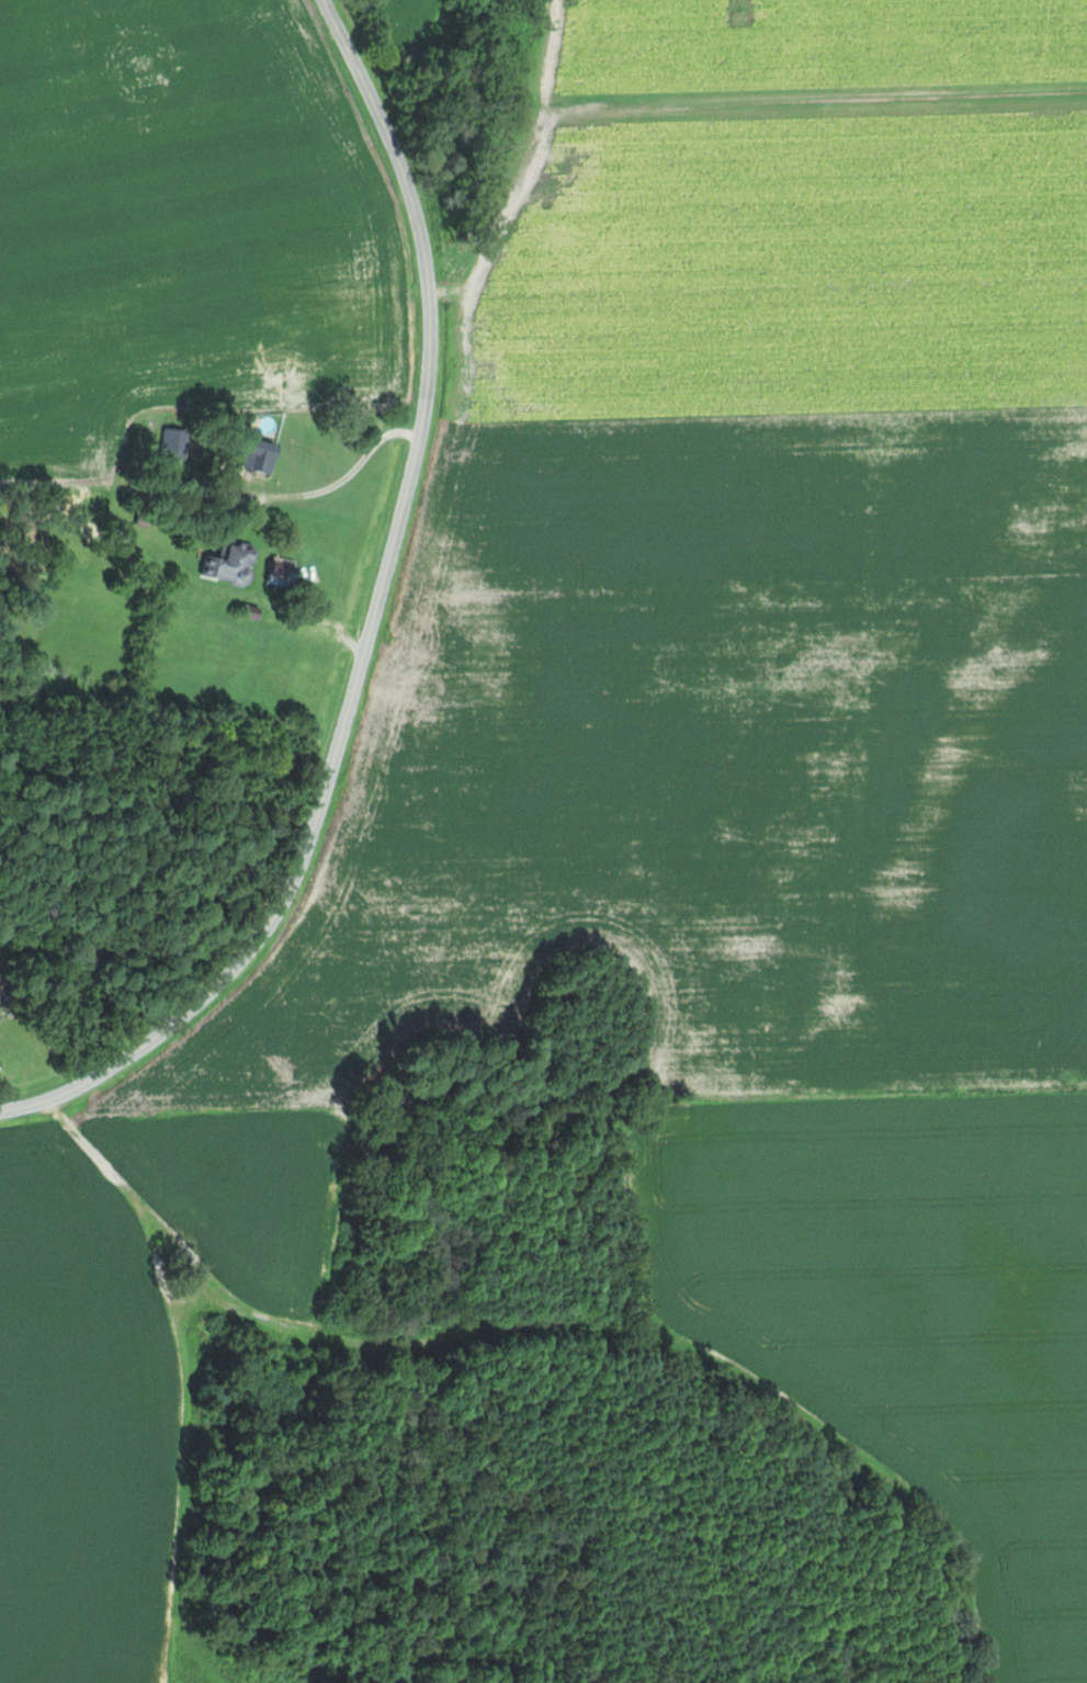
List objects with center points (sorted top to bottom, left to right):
building: (179, 440)
building: (265, 454)
building: (234, 563)
building: (285, 571)
road: (370, 626)

